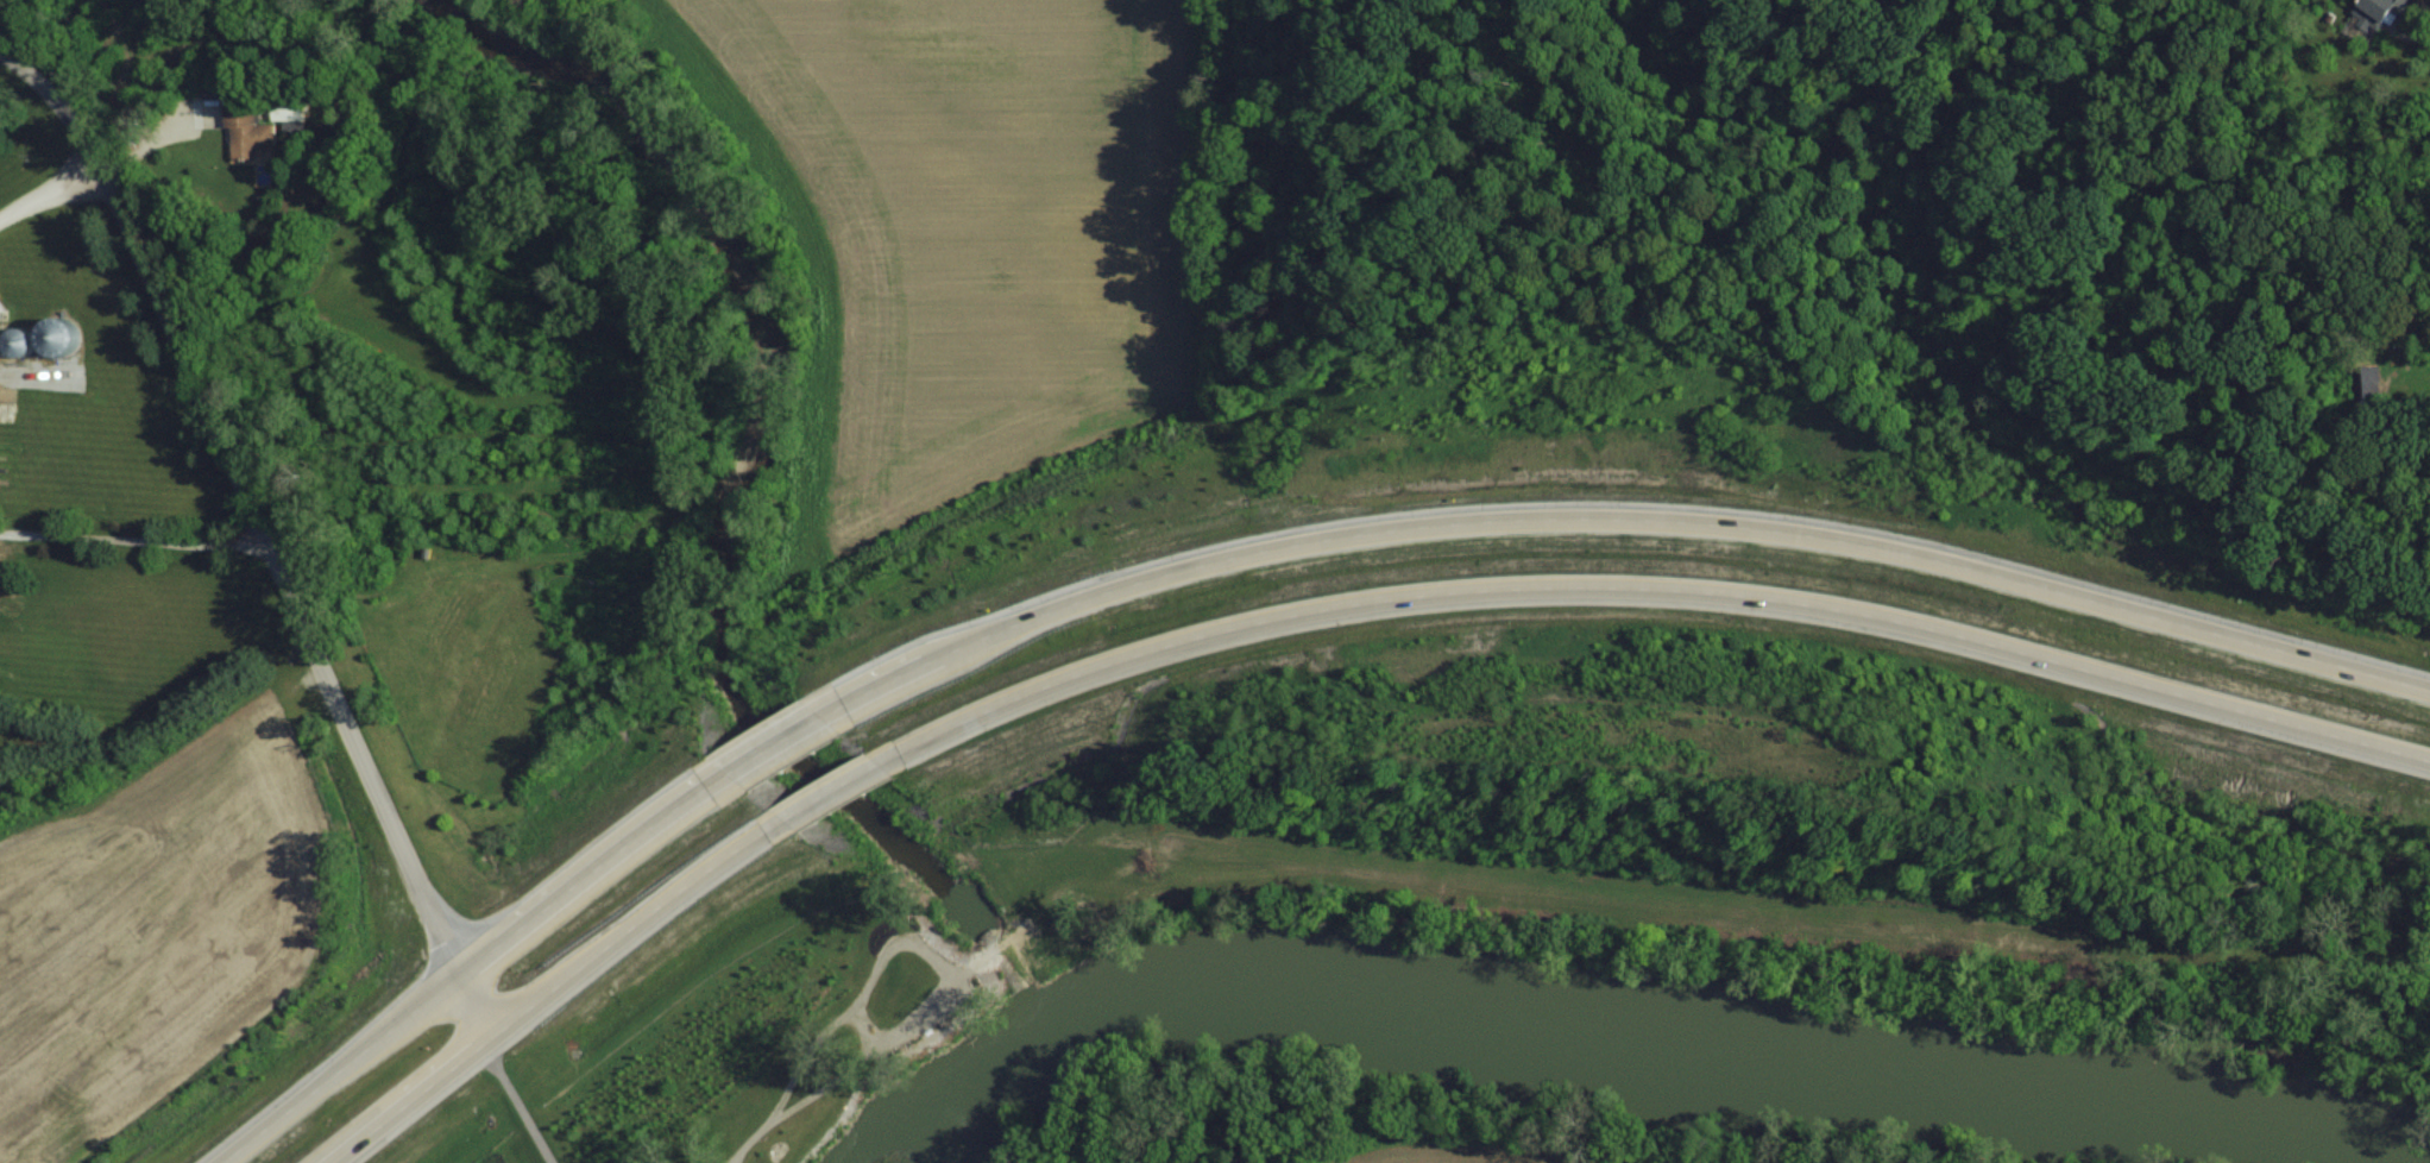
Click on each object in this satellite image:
building: (330, 95)
building: (288, 96)
building: (246, 115)
road: (48, 190)
silo: (53, 316)
silo: (17, 325)
building: (70, 335)
building: (26, 339)
building: (2372, 383)
road: (245, 501)
road: (131, 539)
road: (1246, 553)
road: (1308, 611)
road: (479, 1000)
river: (1573, 1021)

